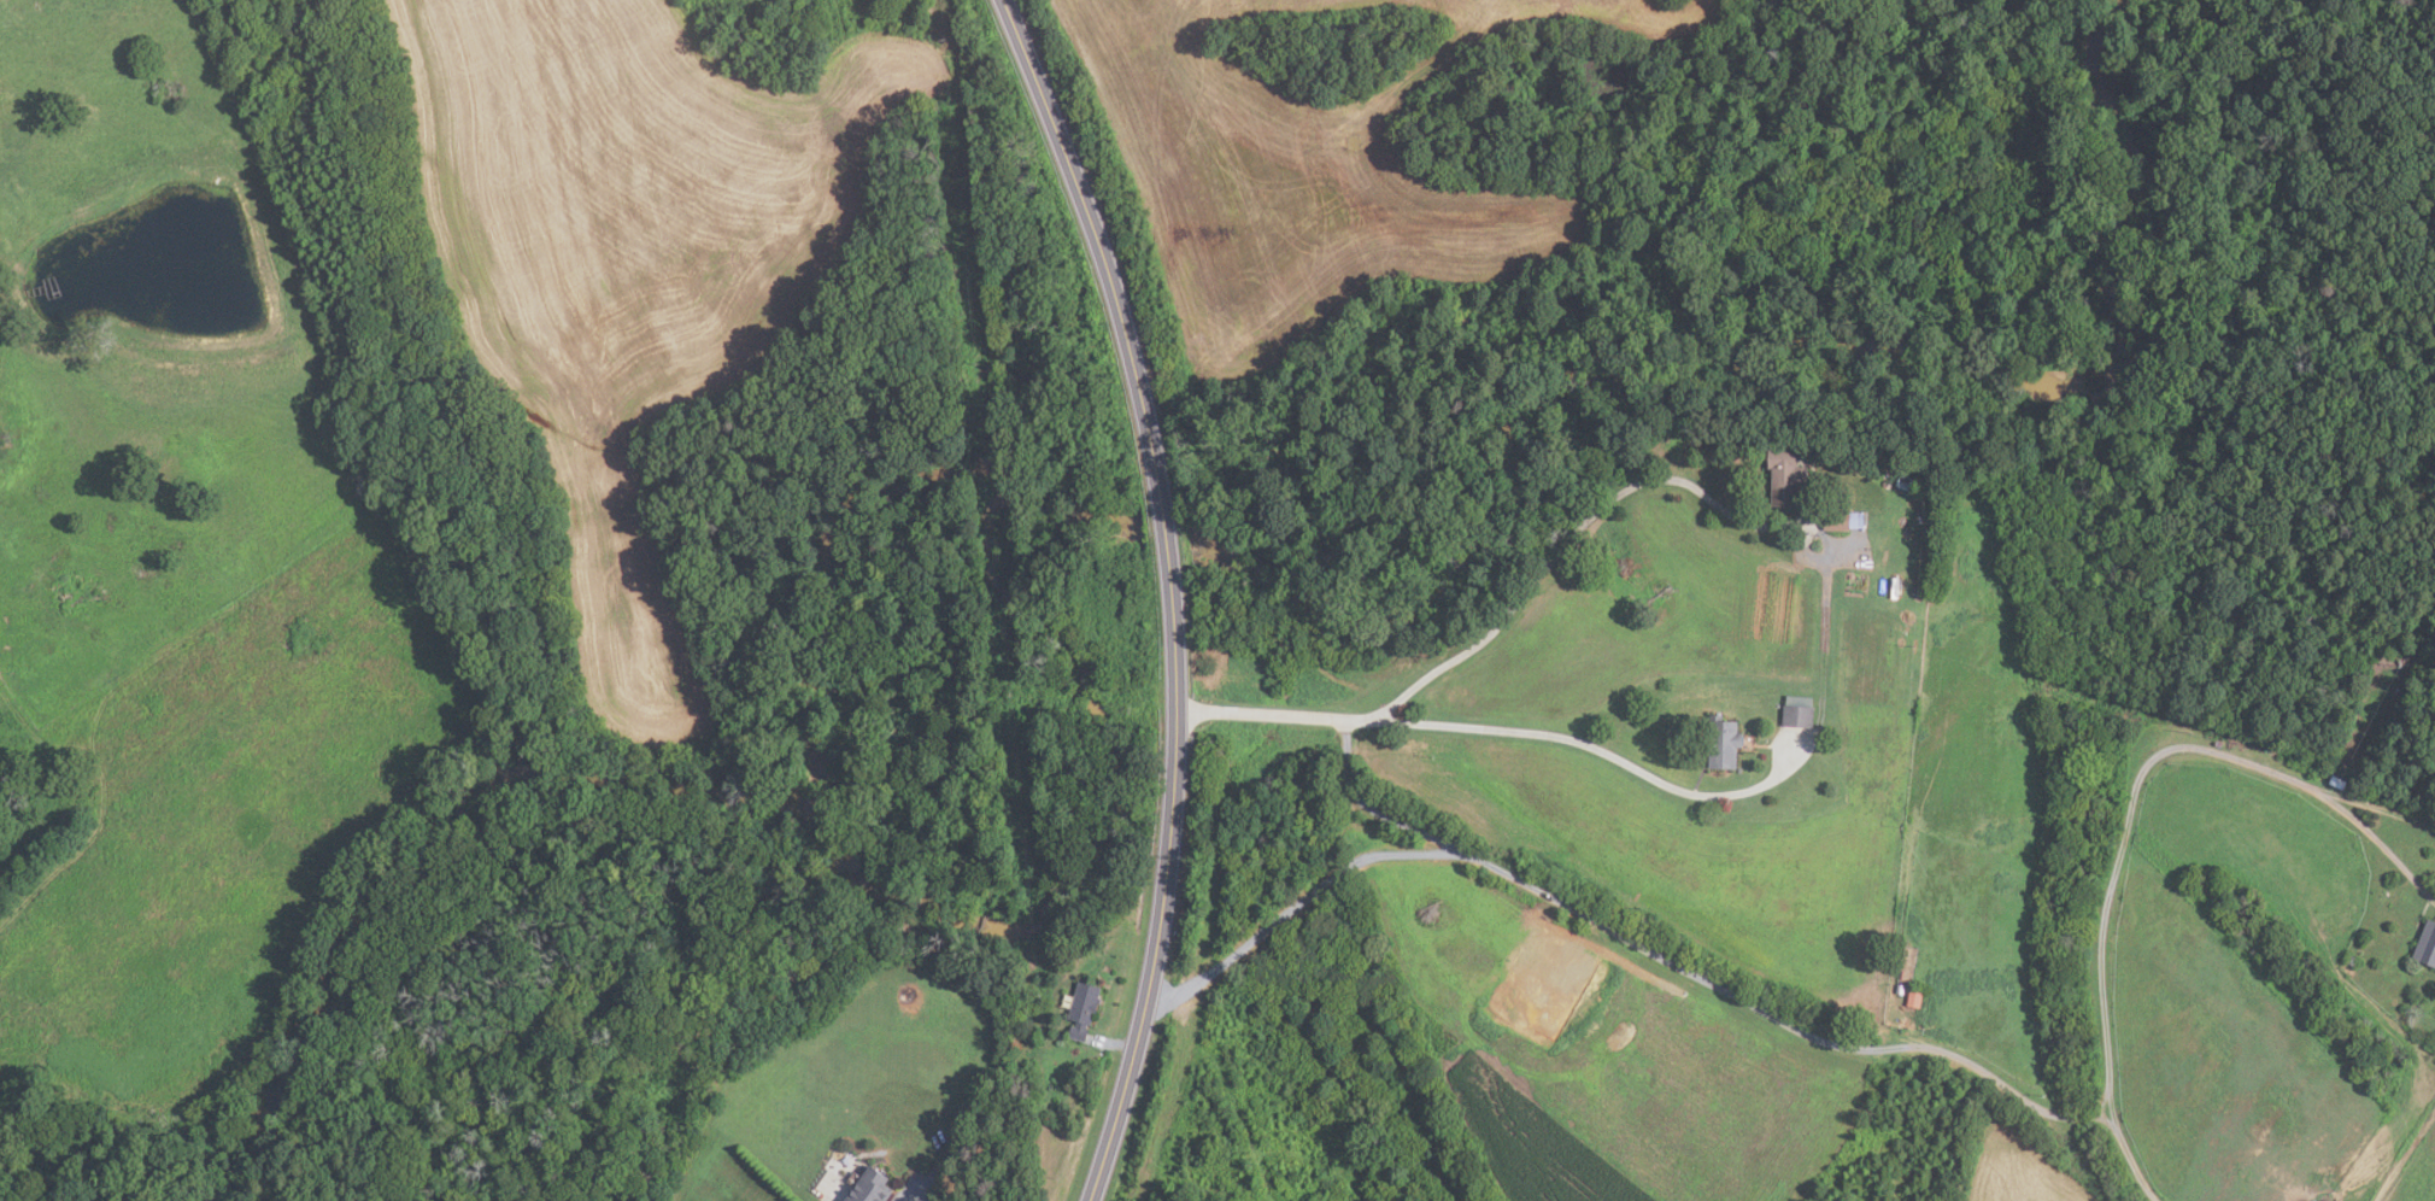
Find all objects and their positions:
building: (1785, 474)
building: (1906, 482)
building: (1856, 520)
building: (1836, 525)
building: (1929, 532)
road: (1172, 592)
road: (1821, 691)
building: (1799, 711)
building: (1723, 742)
building: (1738, 769)
building: (2337, 781)
road: (2371, 798)
road: (1374, 808)
road: (2372, 838)
road: (2117, 844)
road: (1450, 901)
road: (1257, 936)
building: (2427, 944)
building: (2352, 960)
building: (1900, 989)
road: (1733, 992)
building: (1915, 997)
building: (1531, 1000)
building: (1081, 1009)
road: (1114, 1045)
road: (1759, 1056)
building: (761, 1091)
crop: (1529, 1137)
building: (1766, 1141)
road: (2129, 1153)
building: (870, 1187)
road: (917, 1194)

